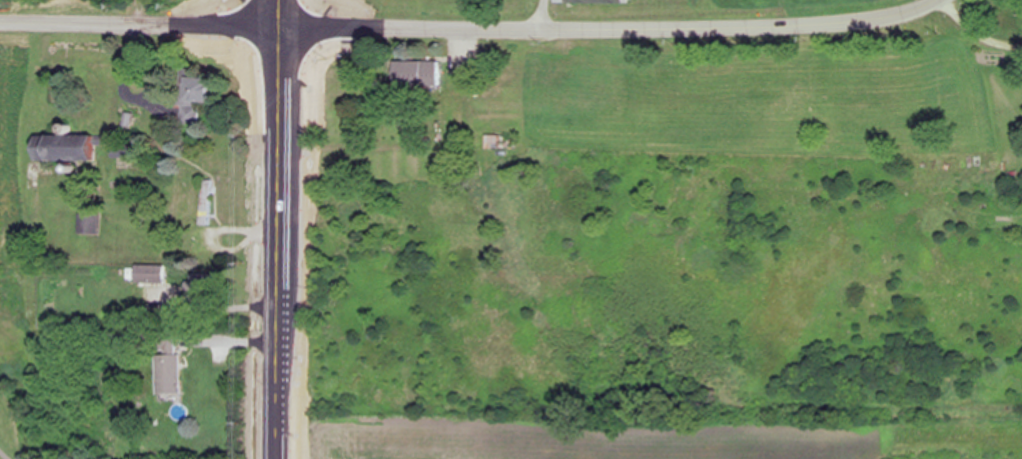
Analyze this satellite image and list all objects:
building: (562, 0)
road: (548, 15)
road: (145, 28)
road: (617, 31)
road: (977, 35)
building: (418, 74)
building: (195, 99)
building: (495, 141)
building: (70, 148)
building: (207, 212)
road: (285, 229)
building: (151, 274)
park: (12, 361)
building: (169, 363)
road: (6, 453)

